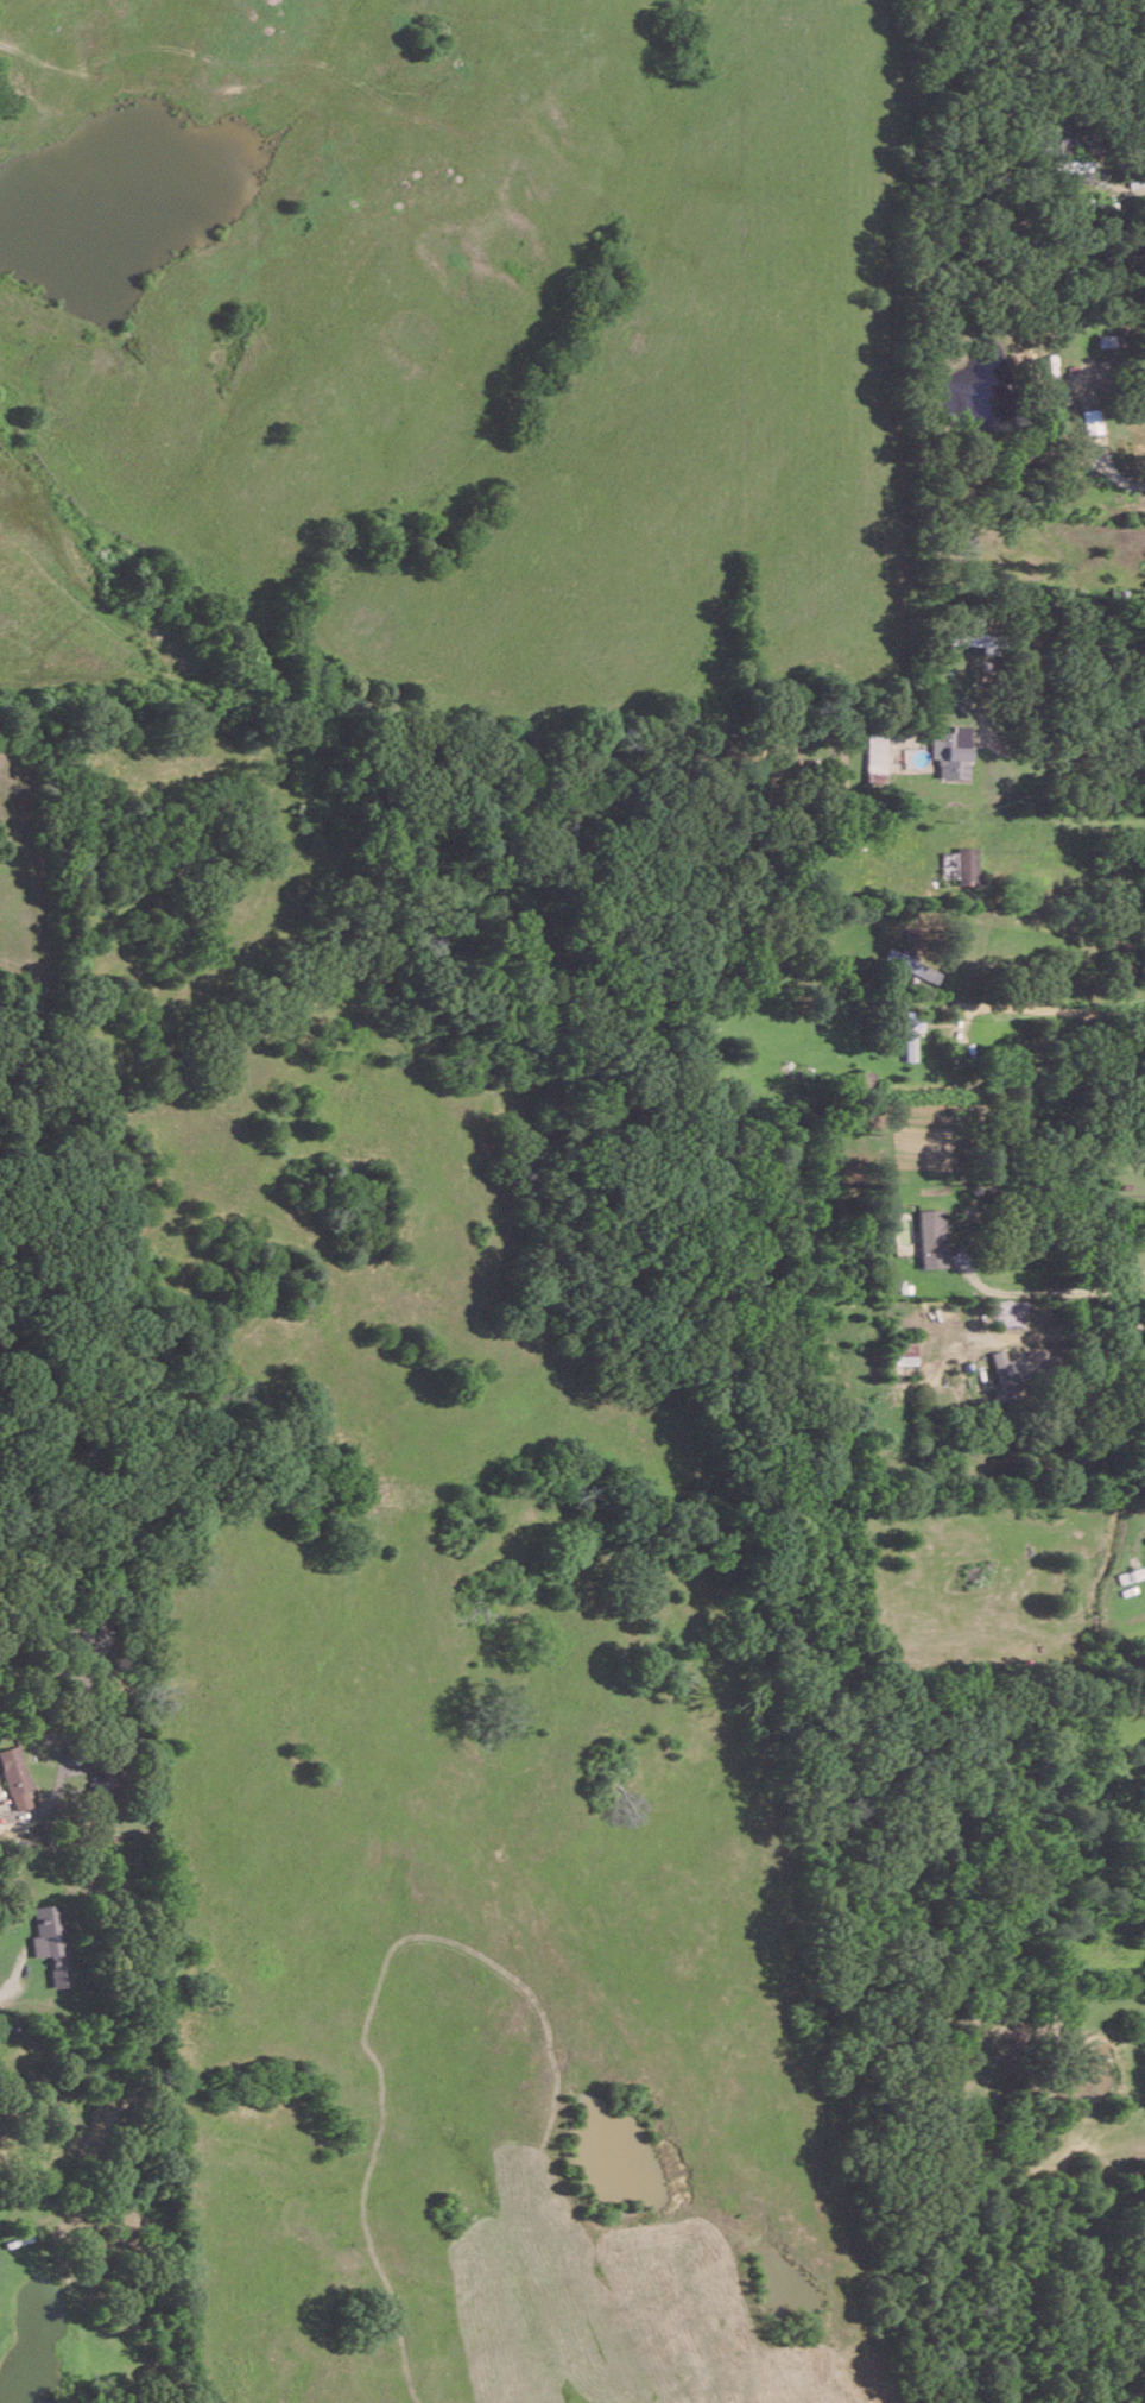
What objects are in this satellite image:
building: (1064, 144)
building: (1075, 166)
road: (1139, 188)
building: (1077, 387)
building: (1089, 420)
road: (1114, 473)
building: (980, 639)
building: (950, 750)
road: (1070, 751)
building: (875, 756)
road: (1076, 863)
building: (961, 864)
road: (1051, 914)
building: (915, 963)
road: (1046, 1005)
building: (910, 1033)
building: (930, 1237)
road: (1049, 1288)
building: (905, 1351)
building: (1004, 1371)
building: (17, 1776)
building: (51, 1941)
road: (10, 1993)

